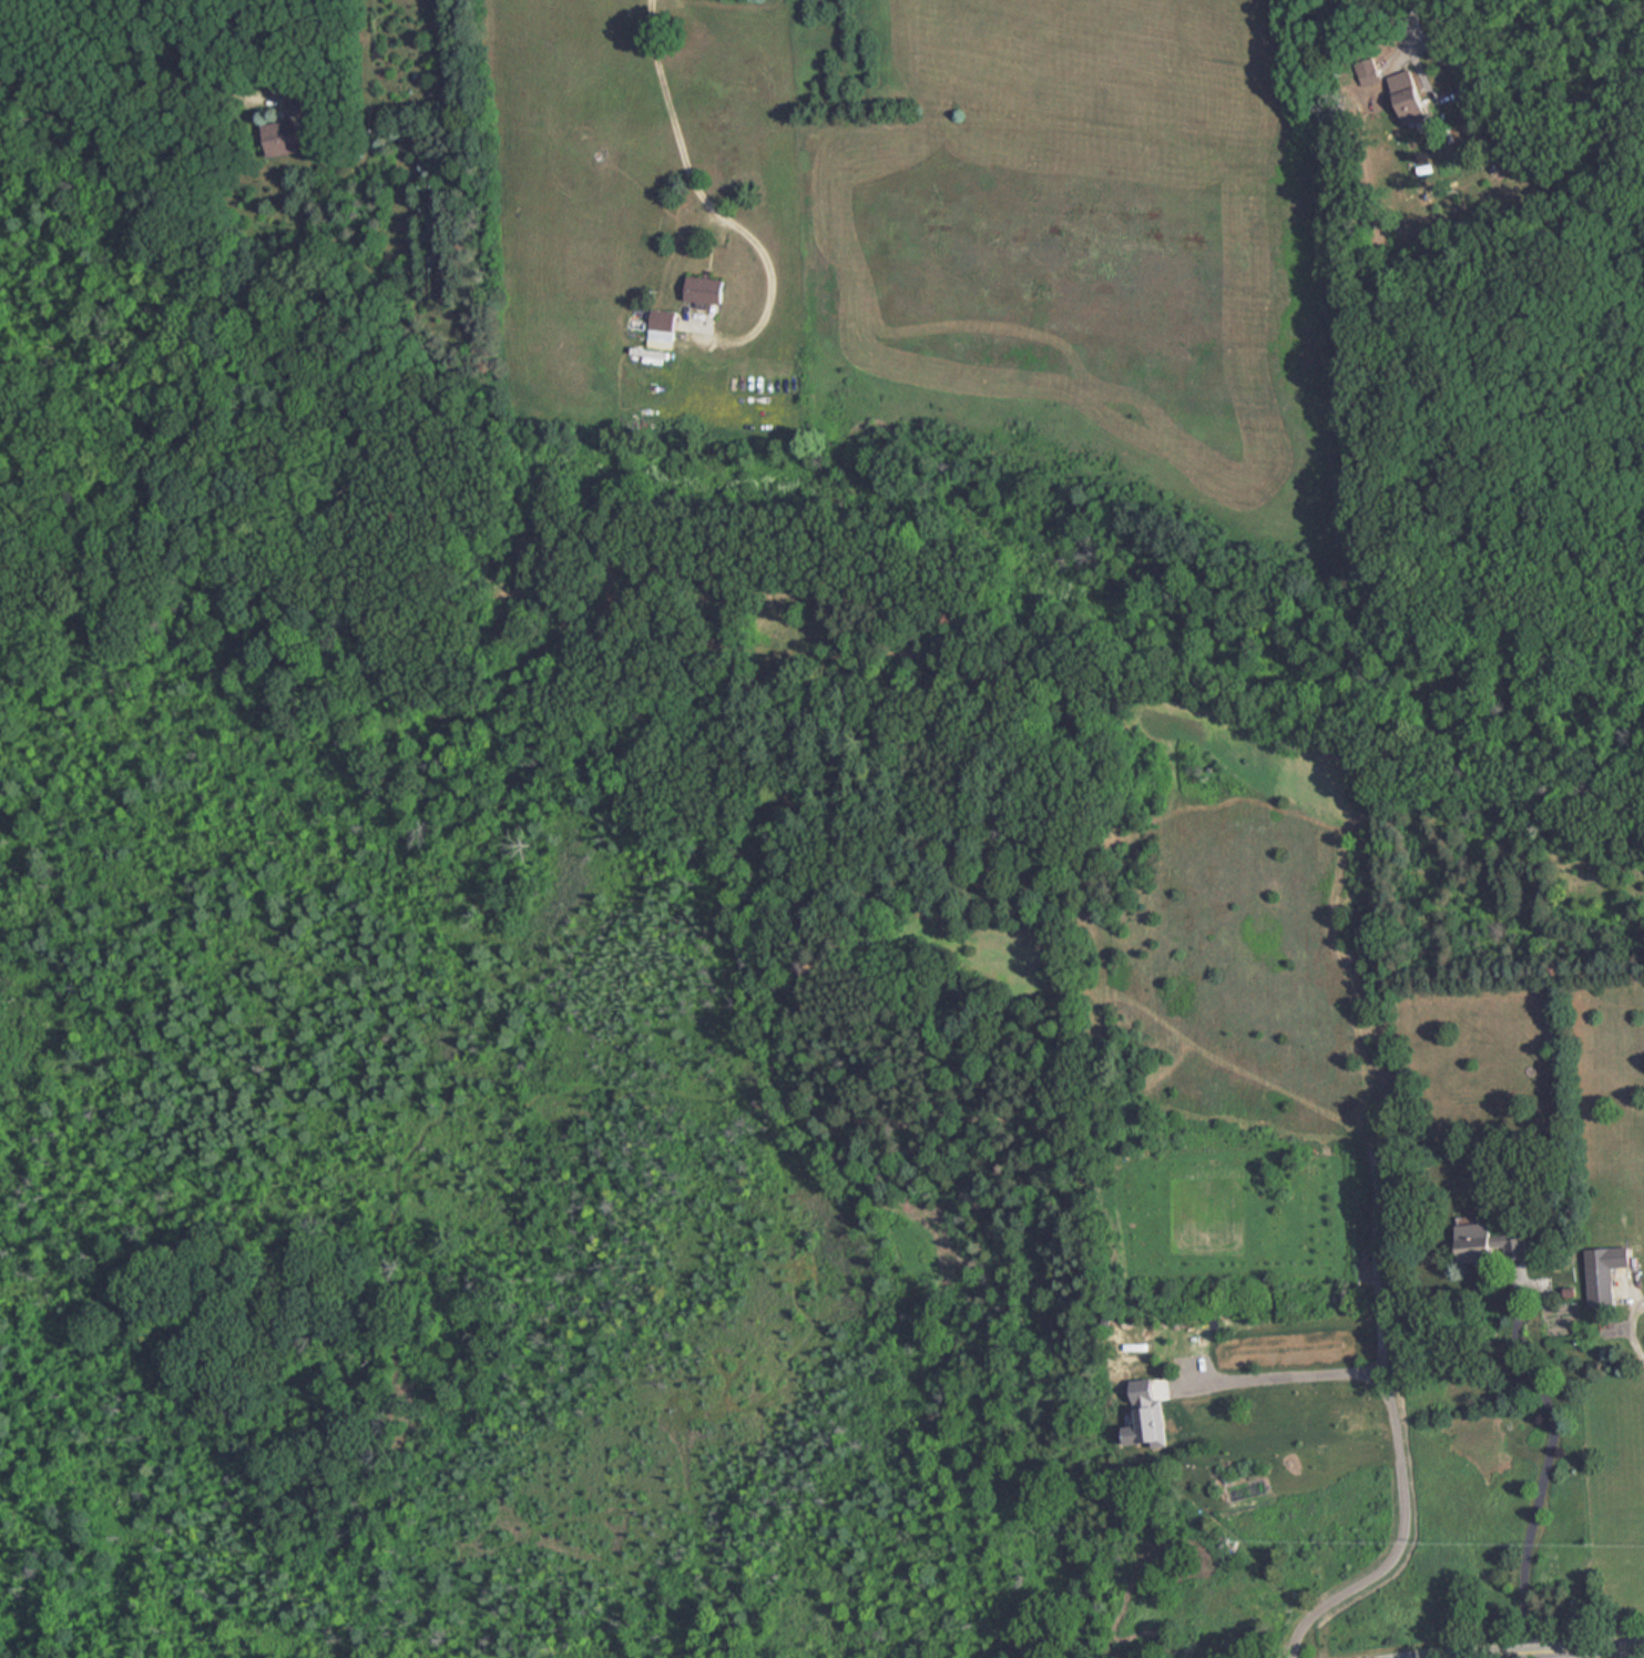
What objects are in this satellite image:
road: (1418, 41)
road: (195, 70)
building: (1408, 95)
building: (307, 103)
building: (282, 138)
road: (707, 202)
building: (705, 287)
building: (666, 327)
park: (203, 1080)
building: (1487, 1243)
building: (1605, 1272)
road: (1549, 1453)
road: (1398, 1454)
road: (1532, 1651)

